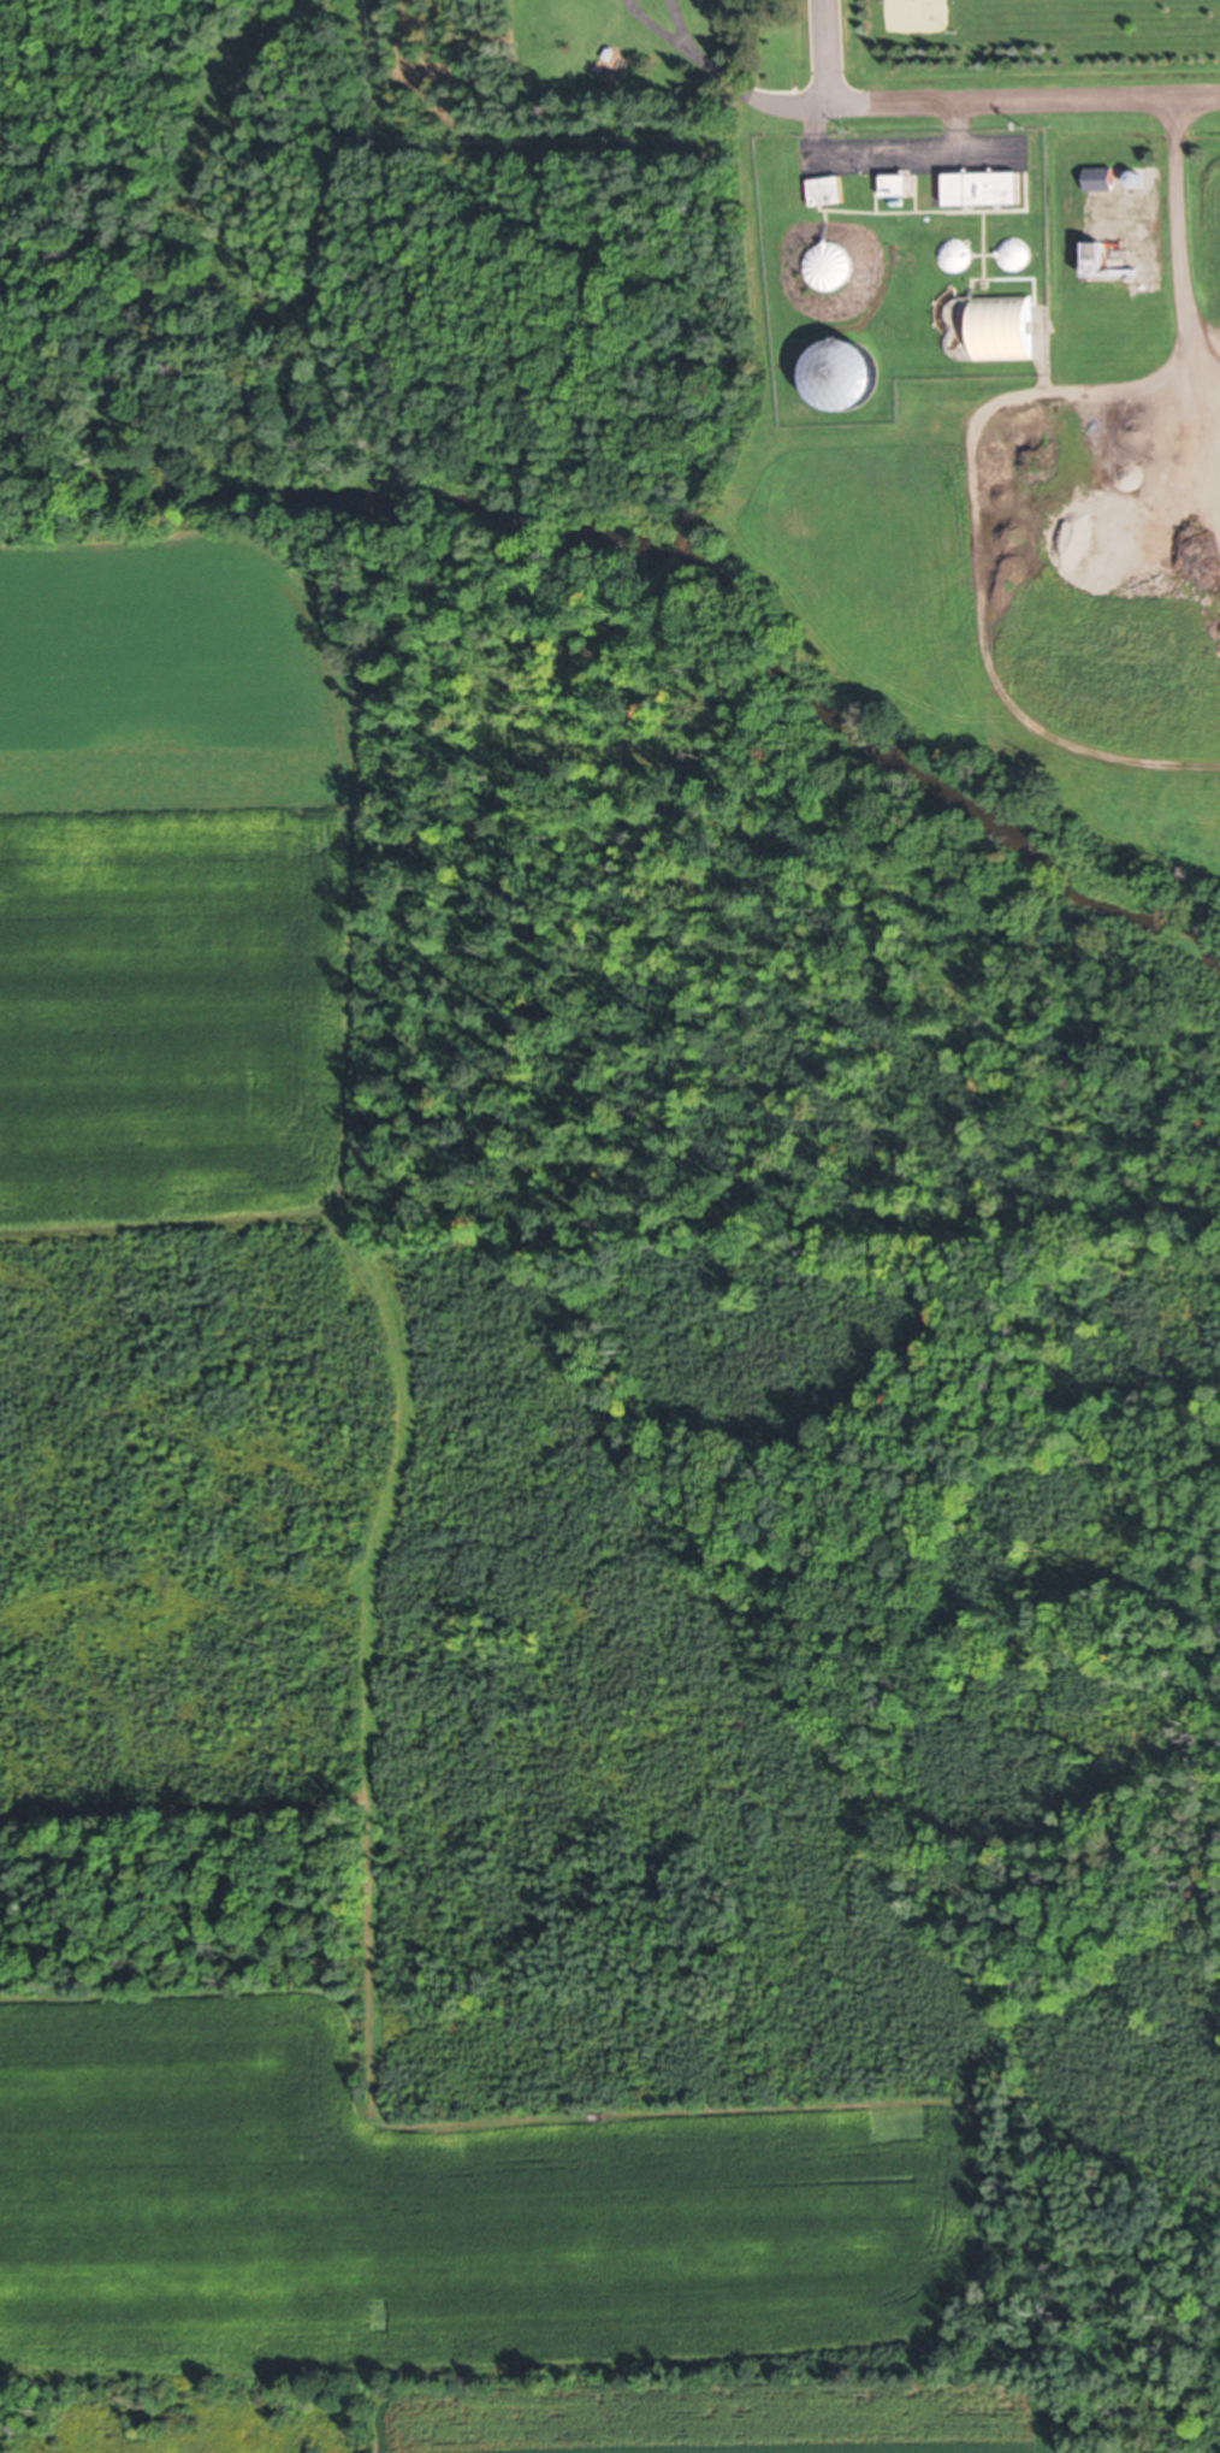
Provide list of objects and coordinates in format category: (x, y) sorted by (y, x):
park: (1030, 42)
road: (829, 52)
road: (984, 100)
building: (900, 184)
building: (989, 188)
building: (829, 189)
road: (1175, 232)
building: (1015, 253)
building: (958, 254)
building: (835, 266)
building: (849, 374)

